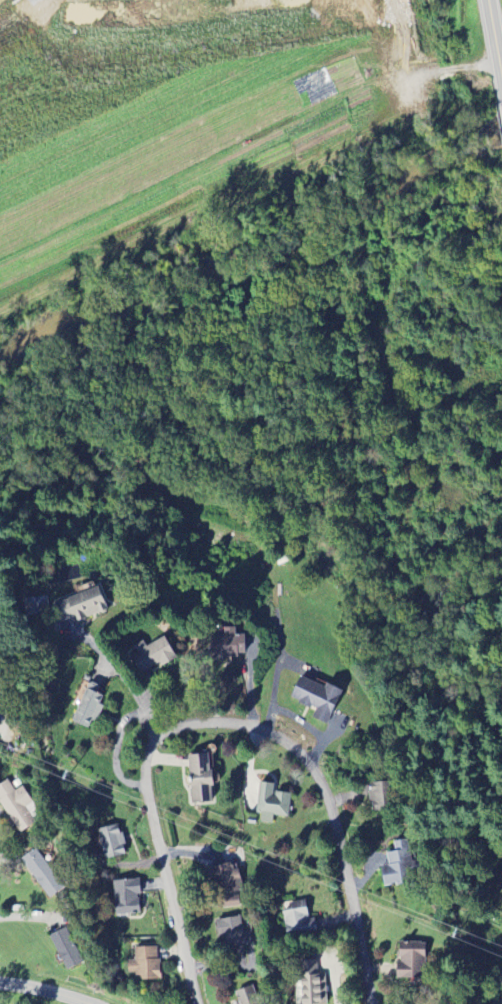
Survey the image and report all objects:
road: (498, 25)
building: (35, 607)
building: (80, 607)
building: (230, 645)
building: (151, 656)
road: (111, 673)
building: (317, 698)
building: (88, 707)
road: (224, 723)
power tower: (69, 775)
building: (201, 779)
building: (379, 797)
building: (271, 804)
building: (16, 806)
building: (112, 842)
building: (398, 866)
building: (42, 874)
building: (500, 882)
building: (225, 884)
building: (127, 897)
road: (27, 917)
building: (297, 918)
building: (232, 933)
power tower: (453, 936)
building: (66, 949)
building: (411, 962)
building: (145, 964)
building: (312, 986)
road: (46, 989)
building: (246, 996)

